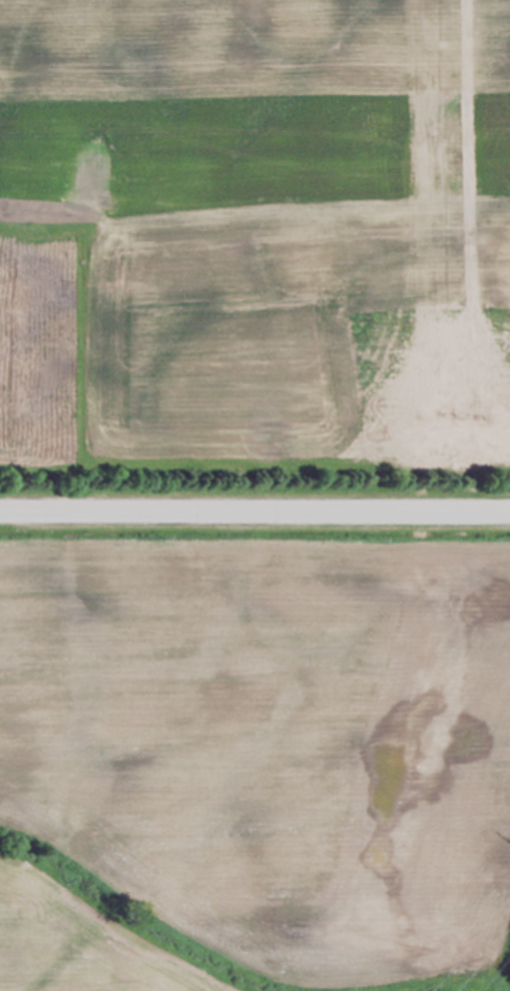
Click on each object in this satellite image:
road: (255, 511)

